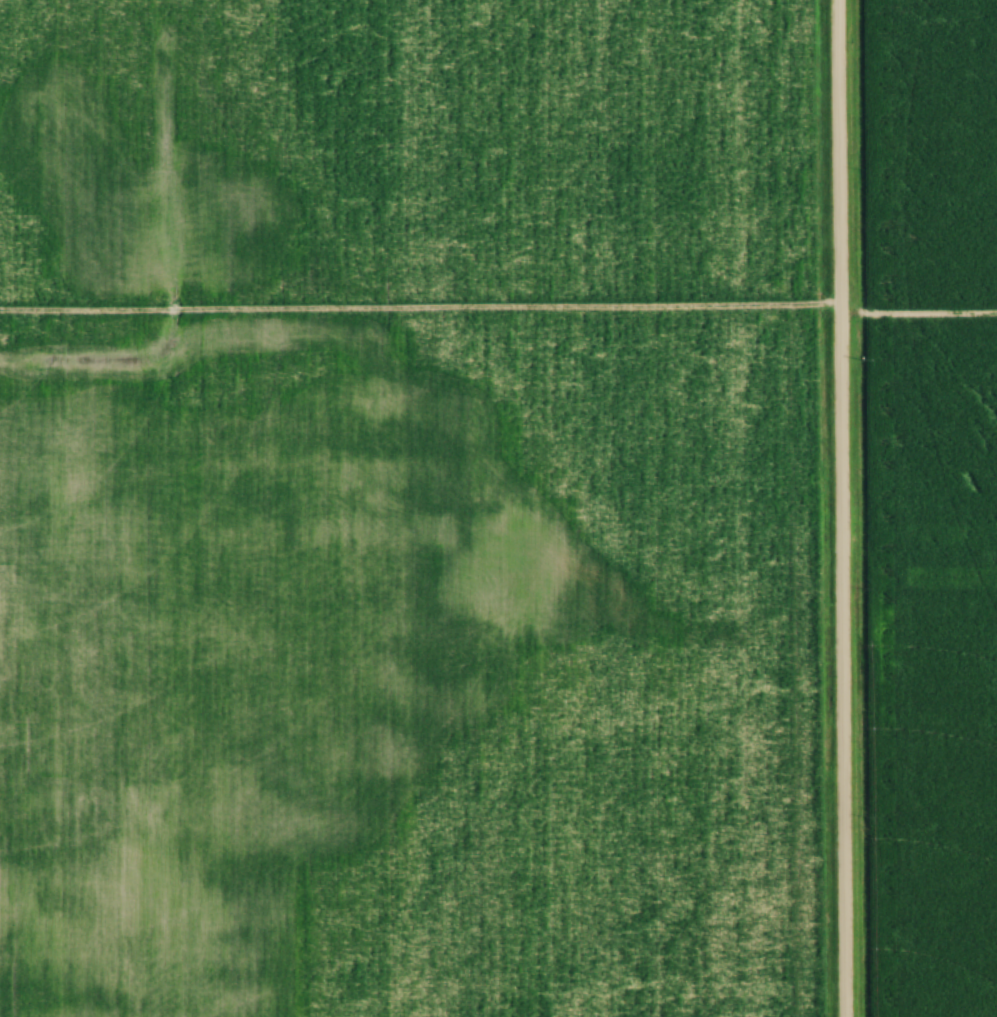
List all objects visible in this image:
crop: (932, 501)
road: (838, 508)

